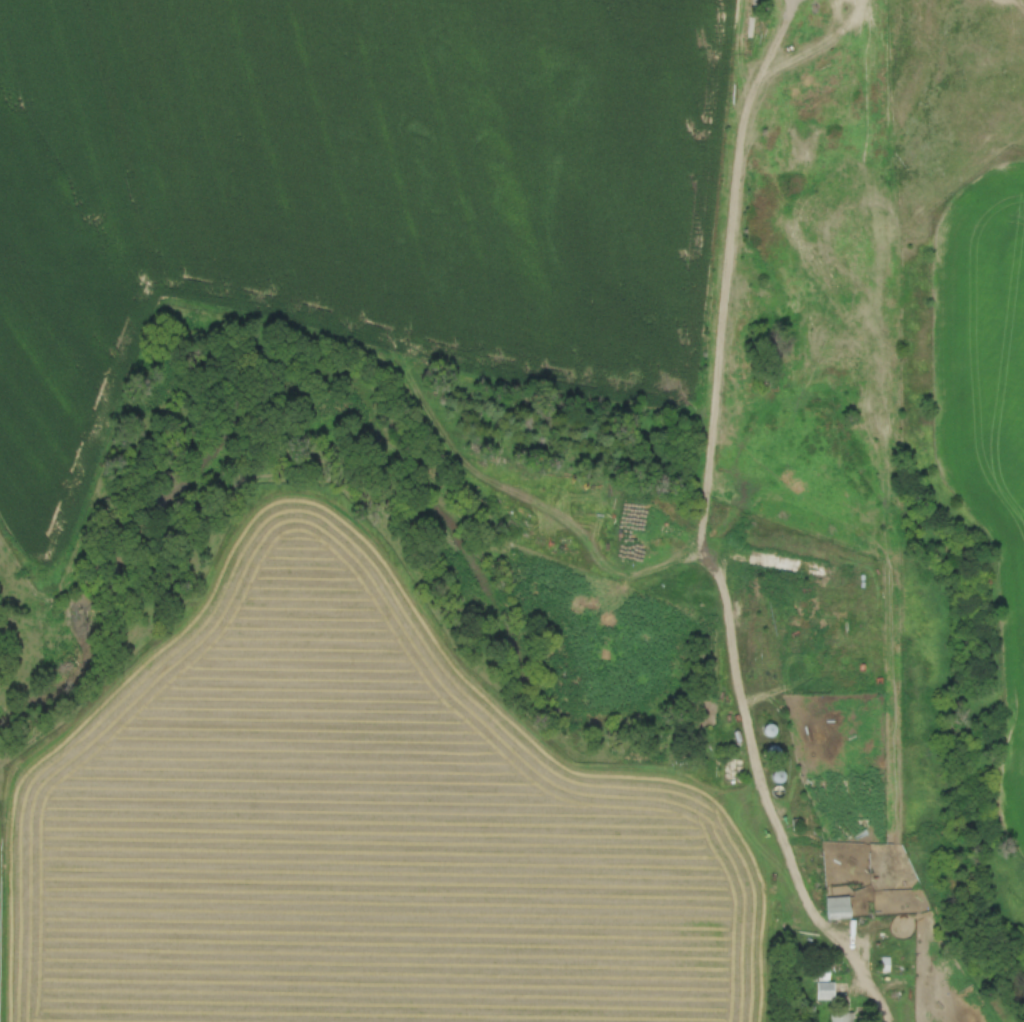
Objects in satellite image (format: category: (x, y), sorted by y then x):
road: (704, 527)
building: (769, 729)
building: (838, 907)
building: (823, 980)
building: (841, 1016)

